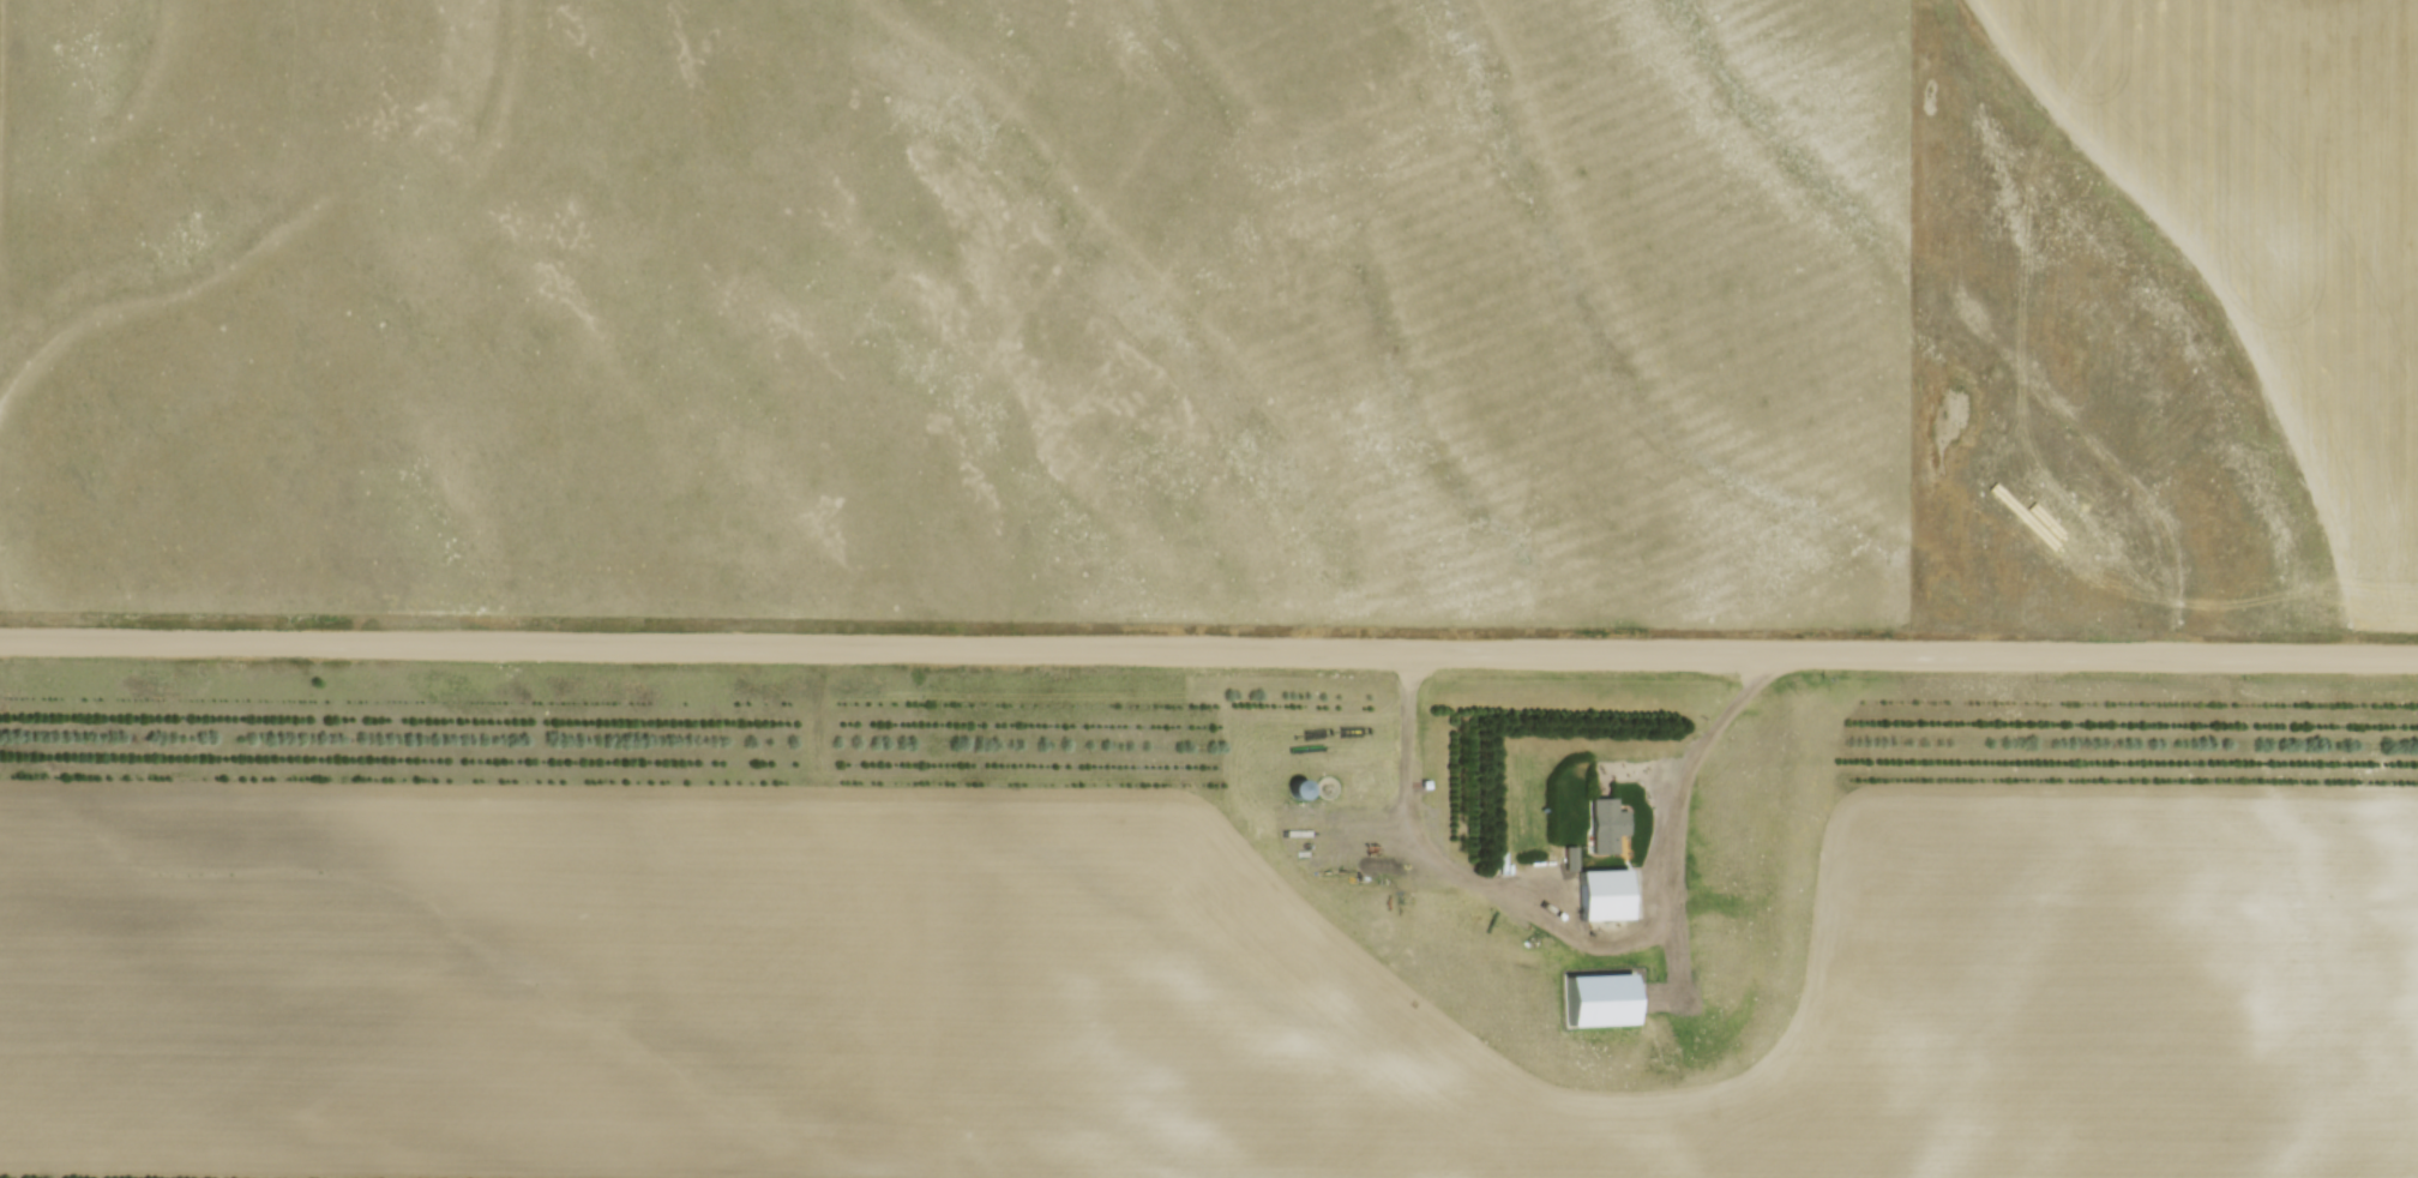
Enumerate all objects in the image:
crop: (2281, 212)
crop: (961, 308)
road: (1208, 650)
building: (1299, 789)
silo: (1299, 789)
building: (1608, 825)
building: (1607, 892)
road: (1604, 940)
building: (1606, 997)
crop: (1150, 1000)

